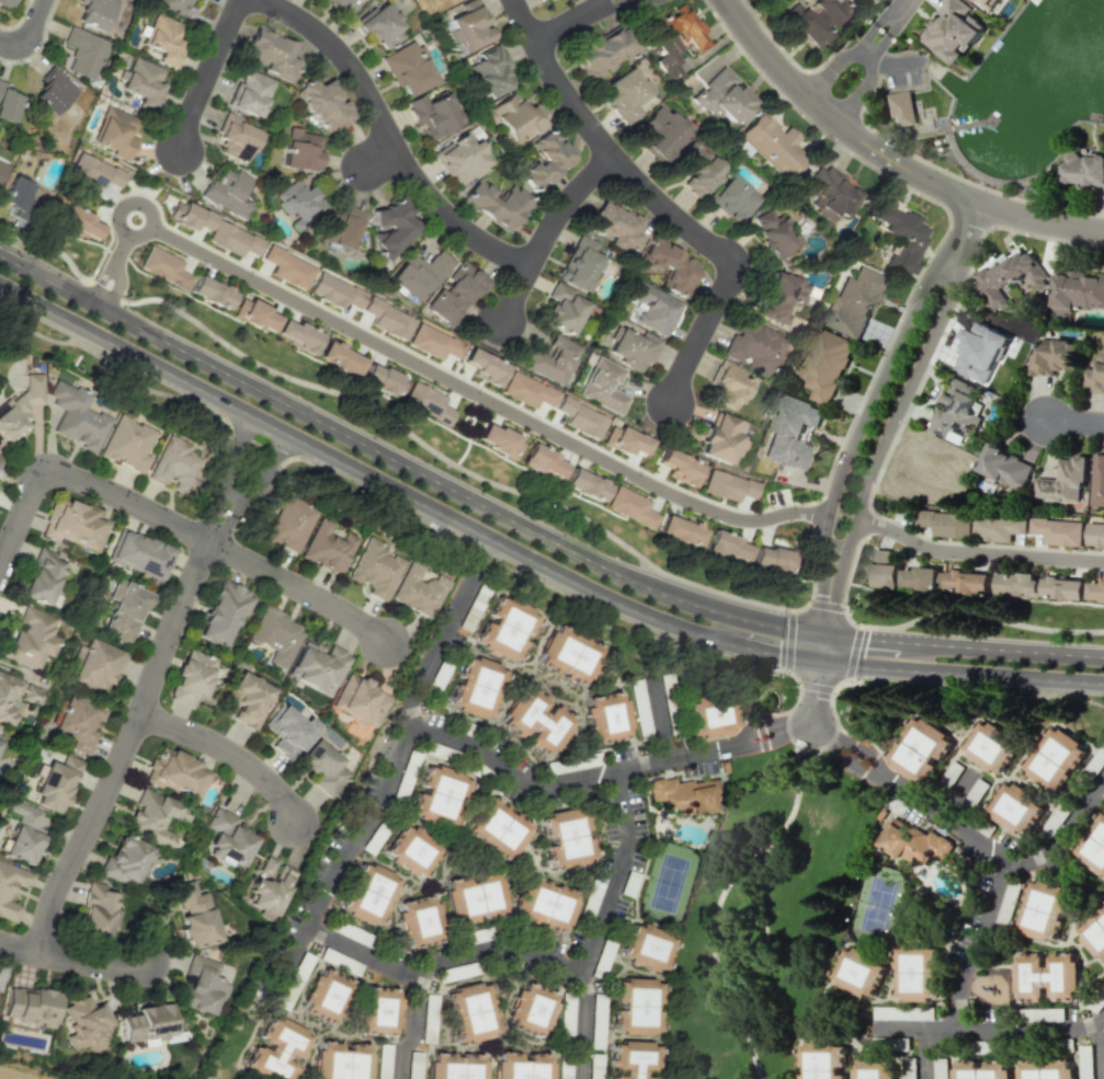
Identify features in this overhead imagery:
building: (547, 0)
building: (8, 2)
building: (338, 2)
building: (983, 3)
building: (172, 5)
building: (94, 13)
road: (580, 22)
road: (30, 25)
building: (380, 25)
building: (471, 26)
building: (954, 30)
building: (163, 39)
building: (674, 41)
road: (7, 44)
building: (270, 51)
building: (603, 51)
building: (84, 53)
road: (866, 56)
building: (408, 69)
building: (490, 71)
road: (203, 78)
building: (143, 83)
building: (53, 92)
building: (250, 93)
building: (624, 95)
building: (722, 96)
building: (8, 104)
building: (323, 104)
building: (902, 107)
building: (433, 112)
building: (514, 117)
building: (115, 131)
building: (661, 131)
road: (389, 135)
building: (235, 137)
building: (771, 145)
building: (300, 150)
building: (463, 157)
road: (373, 158)
road: (889, 158)
building: (546, 160)
building: (2, 168)
building: (697, 168)
building: (1084, 168)
building: (94, 171)
building: (228, 192)
building: (829, 194)
building: (15, 196)
building: (731, 199)
building: (298, 200)
building: (494, 204)
road: (659, 204)
road: (121, 214)
building: (192, 217)
building: (79, 222)
building: (614, 227)
building: (341, 228)
building: (391, 228)
road: (546, 229)
building: (775, 236)
building: (898, 237)
building: (231, 239)
building: (580, 263)
building: (161, 266)
building: (670, 266)
building: (287, 267)
road: (112, 268)
building: (418, 274)
building: (1009, 277)
building: (334, 290)
building: (1078, 290)
road: (104, 291)
building: (210, 291)
building: (454, 292)
building: (781, 295)
building: (852, 302)
building: (651, 308)
building: (560, 309)
building: (259, 315)
building: (387, 319)
building: (297, 334)
building: (432, 342)
building: (753, 345)
building: (633, 349)
building: (980, 353)
building: (1054, 356)
building: (339, 357)
building: (551, 359)
building: (826, 364)
building: (483, 366)
building: (1095, 375)
building: (382, 380)
building: (728, 383)
building: (604, 386)
road: (877, 387)
building: (526, 390)
road: (904, 394)
road: (480, 395)
building: (425, 402)
building: (20, 406)
building: (956, 410)
building: (75, 416)
building: (580, 417)
road: (1075, 422)
building: (790, 431)
building: (0, 437)
building: (721, 438)
building: (499, 439)
building: (628, 441)
building: (125, 444)
building: (0, 459)
building: (542, 459)
road: (451, 462)
building: (174, 464)
building: (679, 467)
building: (1005, 467)
road: (79, 479)
building: (1099, 481)
building: (1063, 482)
building: (585, 484)
building: (727, 485)
building: (629, 506)
building: (947, 523)
building: (288, 524)
building: (75, 525)
building: (999, 528)
road: (528, 529)
building: (680, 529)
building: (1058, 530)
building: (1095, 535)
building: (725, 544)
building: (327, 548)
building: (139, 553)
road: (975, 554)
building: (769, 558)
road: (527, 559)
building: (375, 569)
building: (884, 569)
building: (42, 576)
building: (920, 577)
building: (968, 581)
building: (1017, 584)
road: (305, 587)
building: (1063, 587)
building: (418, 589)
building: (1095, 590)
road: (826, 606)
road: (800, 609)
building: (125, 612)
building: (220, 612)
road: (981, 616)
road: (847, 620)
road: (829, 624)
building: (504, 628)
building: (275, 636)
building: (29, 639)
road: (789, 642)
road: (852, 653)
building: (568, 655)
building: (317, 665)
building: (94, 666)
building: (191, 677)
road: (794, 678)
road: (839, 685)
building: (476, 687)
road: (816, 687)
road: (152, 688)
road: (816, 692)
building: (247, 698)
building: (362, 700)
road: (790, 707)
building: (605, 718)
road: (658, 718)
building: (709, 718)
building: (535, 721)
building: (76, 722)
building: (289, 731)
building: (0, 736)
road: (748, 739)
building: (991, 747)
building: (920, 749)
road: (232, 751)
building: (1055, 759)
road: (808, 761)
building: (322, 767)
building: (177, 773)
road: (387, 773)
building: (55, 783)
road: (540, 787)
road: (955, 793)
building: (682, 794)
building: (439, 795)
building: (1016, 808)
building: (155, 817)
building: (498, 829)
building: (24, 833)
road: (964, 834)
building: (566, 837)
building: (228, 838)
building: (911, 841)
building: (1093, 846)
building: (411, 851)
building: (125, 861)
building: (266, 865)
road: (727, 877)
park: (669, 881)
building: (10, 887)
building: (269, 893)
building: (369, 894)
building: (475, 896)
building: (545, 904)
park: (877, 904)
building: (1044, 909)
building: (98, 911)
park: (764, 912)
building: (194, 915)
building: (420, 921)
road: (599, 923)
building: (1094, 933)
road: (976, 944)
building: (646, 948)
road: (73, 960)
road: (439, 962)
building: (860, 971)
building: (917, 974)
building: (1046, 977)
building: (205, 980)
building: (327, 997)
building: (31, 1006)
building: (636, 1007)
building: (533, 1010)
building: (380, 1012)
building: (473, 1012)
building: (86, 1022)
building: (148, 1023)
road: (413, 1029)
road: (989, 1029)
building: (277, 1049)
road: (923, 1053)
road: (1100, 1053)
building: (634, 1058)
building: (822, 1060)
building: (342, 1061)
building: (457, 1066)
building: (523, 1066)
building: (908, 1068)
building: (875, 1069)
building: (981, 1069)
building: (1044, 1069)

